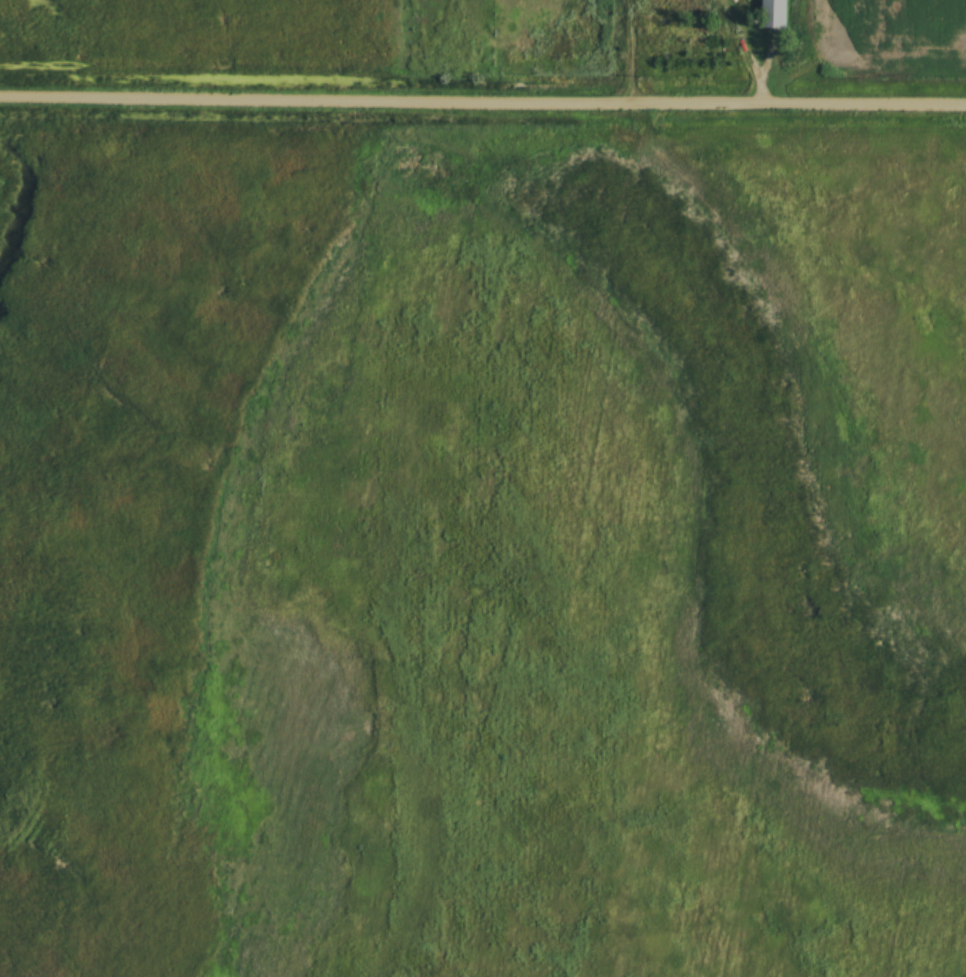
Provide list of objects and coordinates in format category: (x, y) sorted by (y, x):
building: (777, 13)
road: (482, 96)

